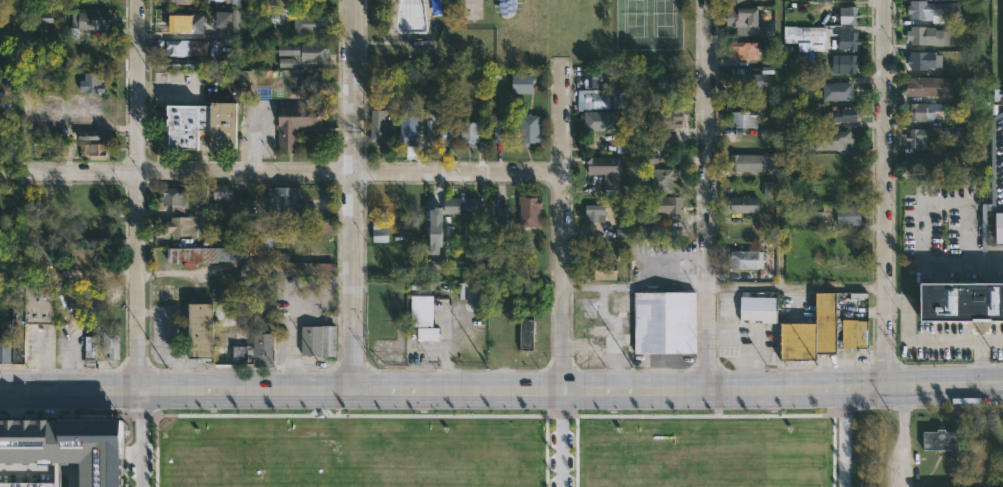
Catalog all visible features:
building: (181, 1)
building: (228, 2)
building: (741, 2)
building: (282, 3)
building: (507, 5)
park: (474, 9)
building: (938, 11)
building: (849, 15)
building: (746, 17)
building: (93, 20)
building: (187, 23)
park: (632, 23)
building: (312, 24)
park: (665, 24)
building: (230, 26)
building: (436, 34)
building: (806, 36)
building: (928, 36)
building: (849, 39)
road: (383, 40)
building: (1002, 42)
building: (178, 48)
building: (307, 50)
building: (744, 50)
building: (921, 58)
building: (285, 62)
building: (175, 63)
building: (847, 64)
building: (746, 79)
building: (671, 81)
building: (318, 82)
building: (523, 83)
building: (11, 84)
building: (92, 84)
building: (921, 86)
building: (970, 86)
building: (839, 90)
building: (600, 94)
building: (921, 112)
building: (846, 115)
building: (55, 116)
building: (666, 117)
building: (747, 120)
building: (601, 121)
building: (296, 125)
building: (204, 127)
building: (431, 127)
building: (379, 128)
building: (409, 130)
building: (501, 130)
building: (530, 130)
building: (446, 131)
building: (470, 133)
building: (920, 138)
building: (832, 140)
building: (94, 151)
building: (938, 162)
parking lot: (998, 162)
building: (748, 163)
building: (955, 164)
building: (605, 170)
road: (281, 173)
building: (665, 180)
building: (768, 189)
building: (221, 191)
road: (886, 192)
road: (138, 193)
road: (353, 194)
road: (706, 195)
building: (175, 199)
building: (50, 200)
road: (921, 201)
building: (452, 204)
building: (670, 205)
building: (744, 205)
building: (474, 206)
building: (212, 208)
building: (530, 210)
building: (597, 213)
building: (504, 215)
building: (850, 216)
building: (285, 217)
building: (83, 220)
building: (647, 223)
road: (561, 226)
building: (182, 227)
building: (1000, 229)
building: (437, 230)
building: (380, 231)
building: (81, 235)
building: (228, 236)
parking lot: (948, 236)
building: (850, 239)
building: (199, 253)
building: (623, 253)
road: (661, 256)
building: (86, 258)
building: (746, 258)
road: (244, 259)
road: (985, 263)
building: (600, 266)
building: (288, 268)
road: (633, 286)
road: (795, 287)
building: (960, 303)
road: (290, 307)
building: (760, 308)
building: (422, 309)
road: (321, 316)
road: (604, 316)
building: (664, 323)
building: (528, 329)
building: (824, 330)
building: (429, 333)
road: (755, 334)
building: (227, 335)
building: (111, 339)
building: (320, 339)
building: (15, 340)
road: (927, 342)
parking lot: (951, 342)
road: (610, 345)
building: (91, 351)
road: (982, 361)
road: (501, 389)
road: (902, 435)
road: (139, 436)
road: (843, 437)
road: (560, 438)
building: (943, 438)
building: (67, 446)
road: (43, 471)
building: (30, 485)
parking garage: (30, 485)

